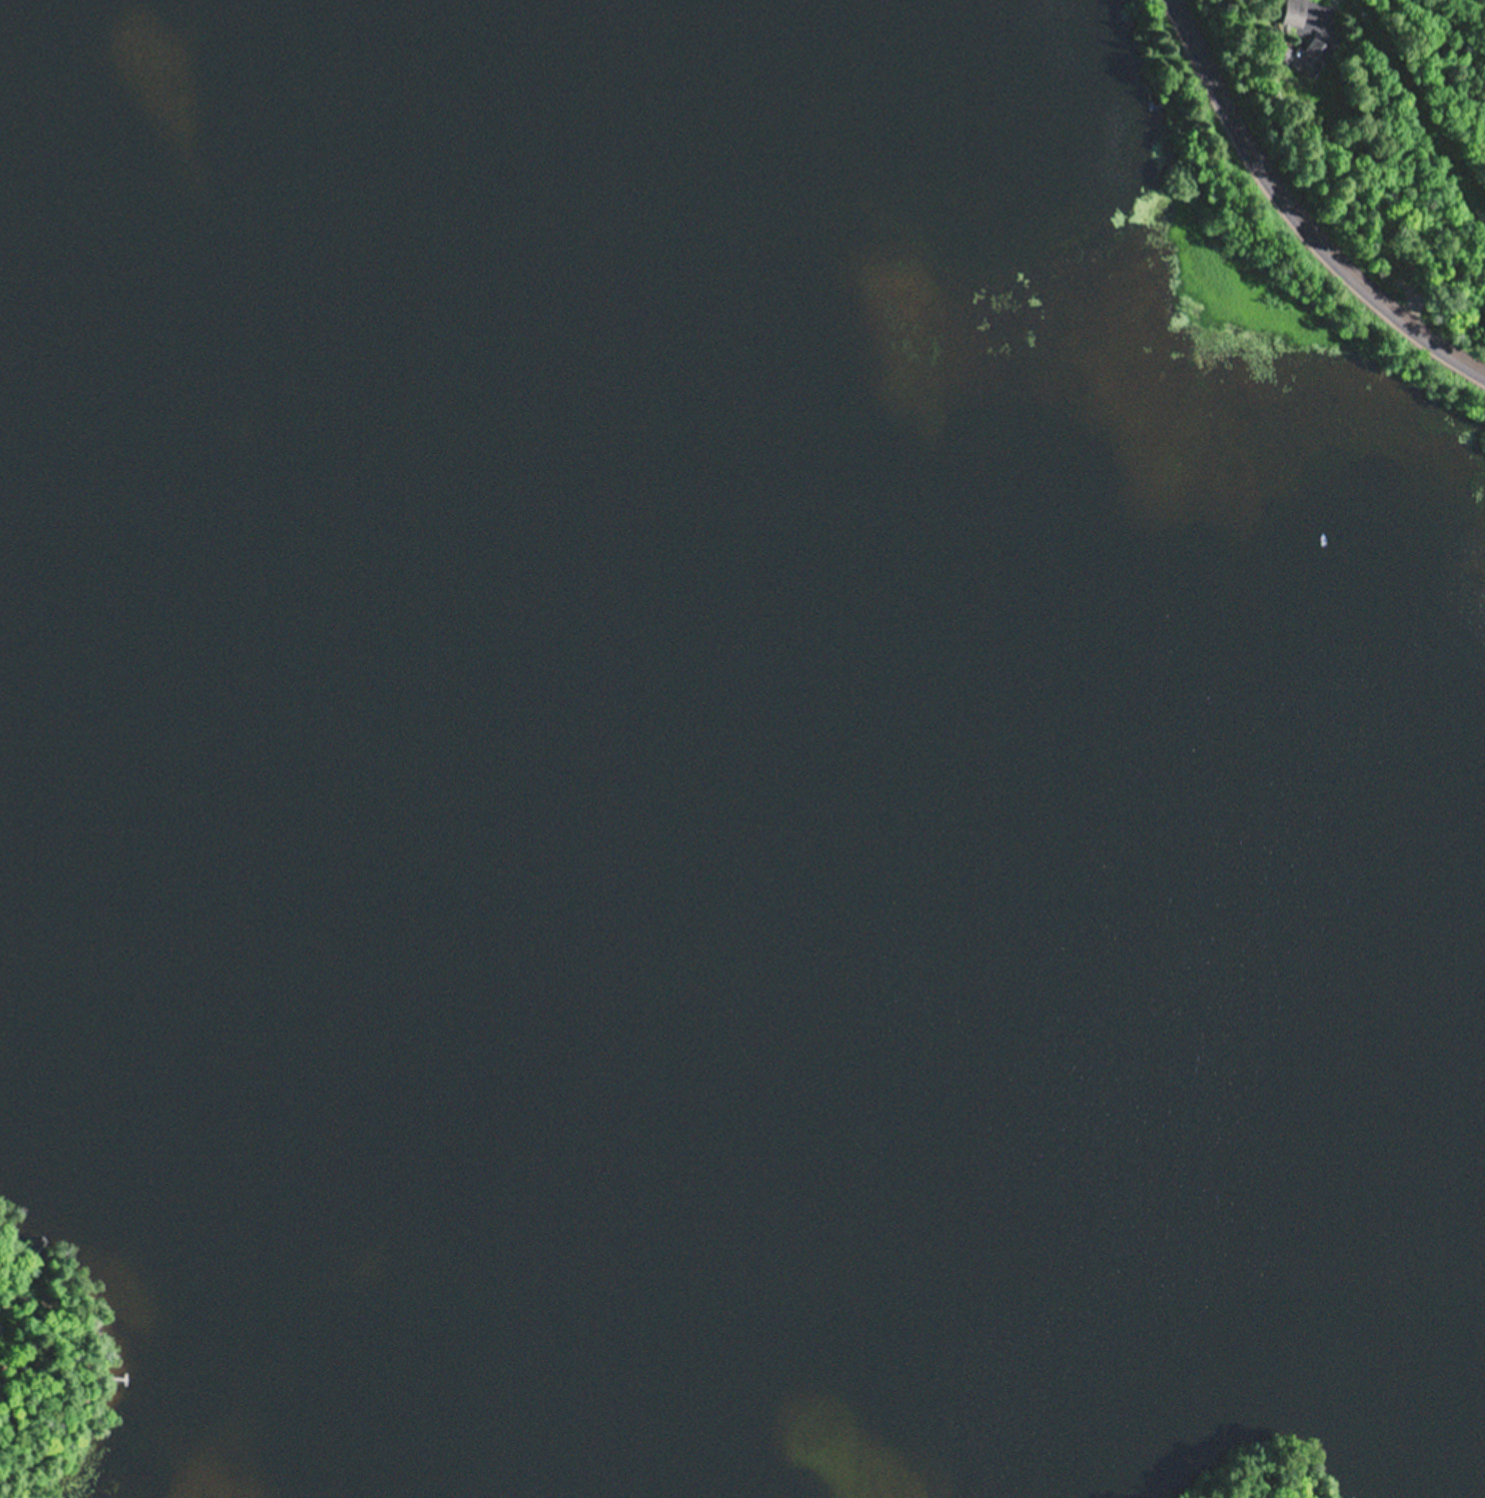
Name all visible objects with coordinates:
road: (1299, 208)
road: (8, 1363)

